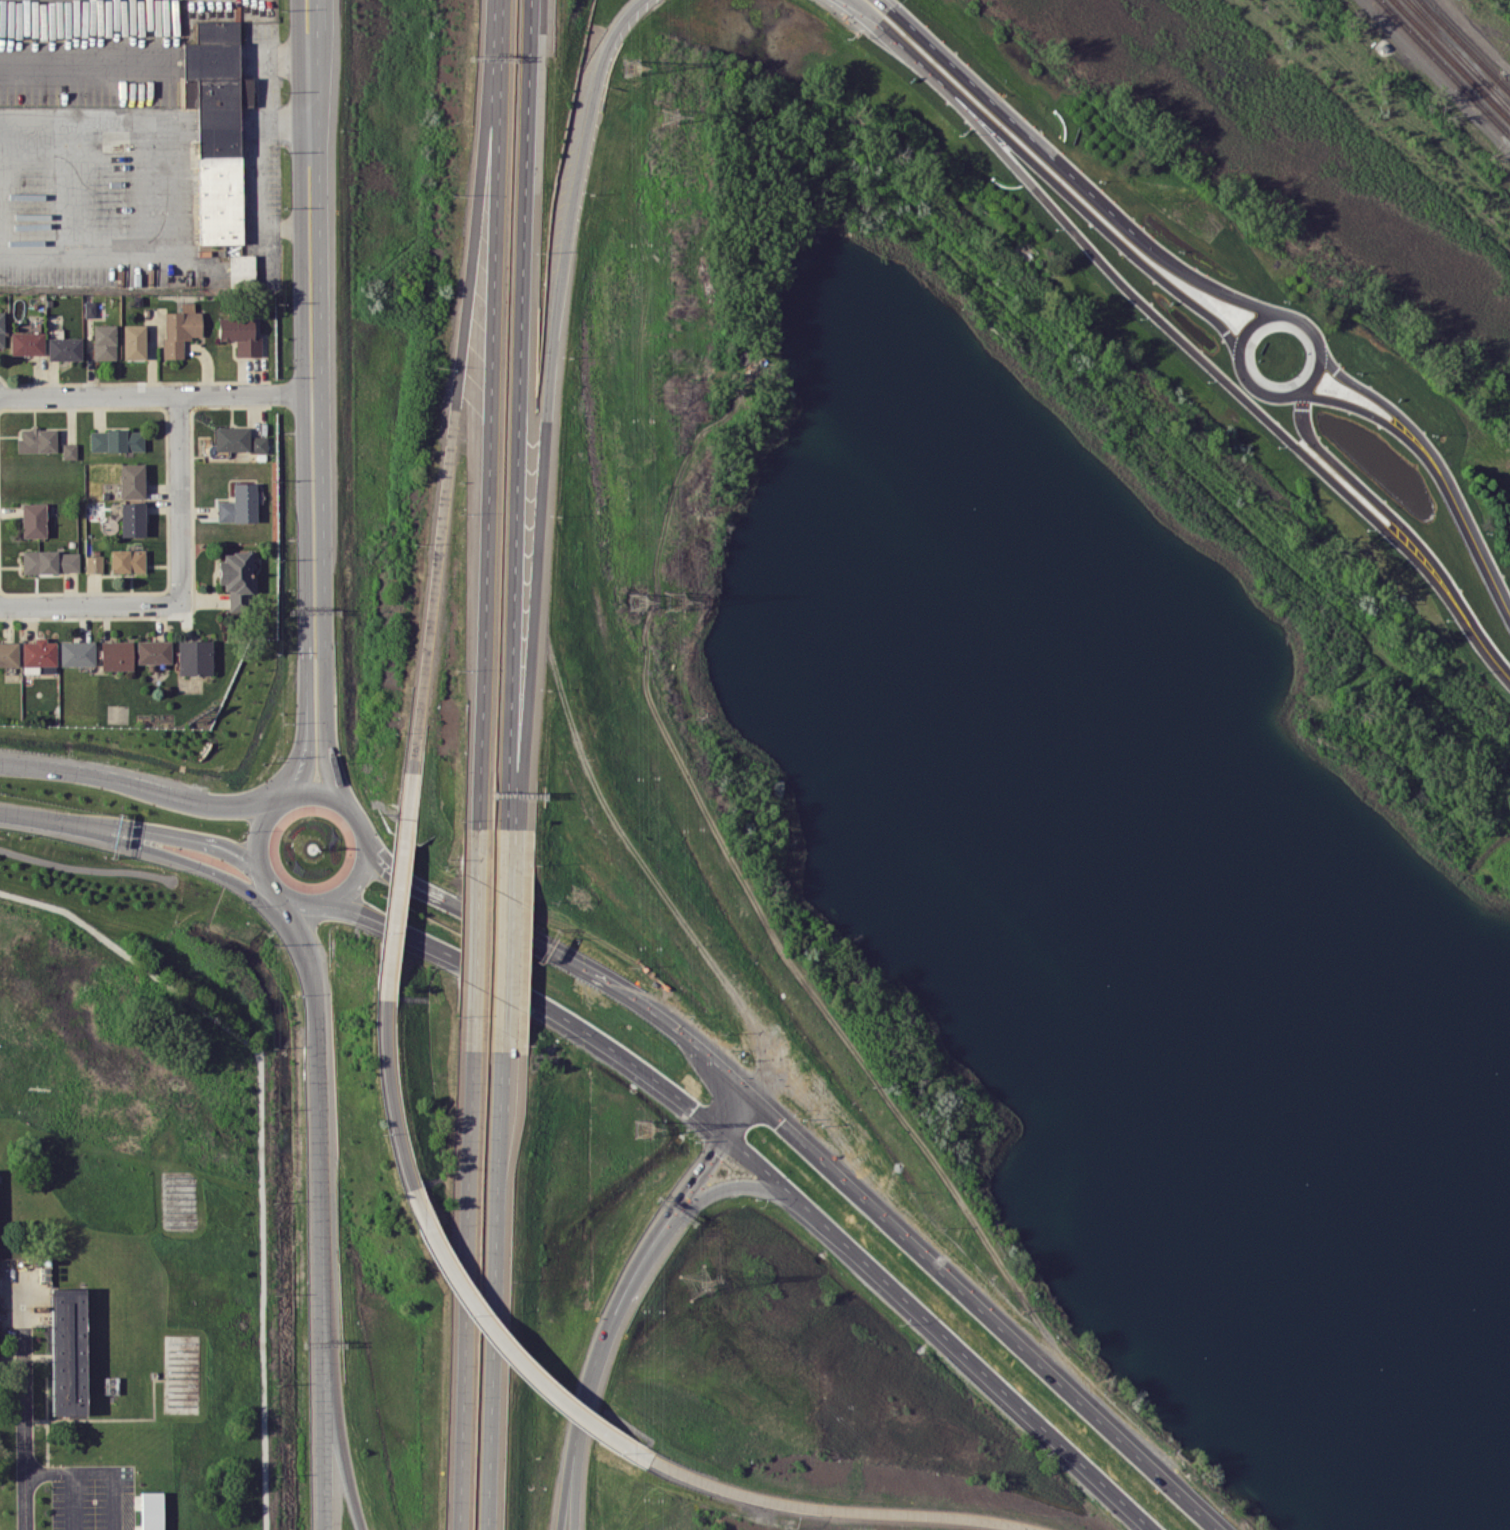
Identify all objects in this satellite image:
road: (497, 28)
railway: (1449, 44)
railway: (1452, 44)
railway: (1465, 46)
road: (210, 58)
road: (269, 58)
road: (90, 59)
railway: (1451, 59)
road: (309, 62)
railway: (1445, 67)
railway: (1501, 98)
building: (216, 128)
road: (1069, 173)
road: (260, 177)
road: (1048, 178)
building: (242, 270)
road: (301, 303)
building: (89, 309)
road: (1304, 322)
road: (1248, 328)
building: (181, 329)
building: (1, 330)
building: (241, 335)
road: (1180, 339)
building: (104, 342)
building: (134, 342)
building: (27, 343)
building: (64, 348)
road: (1317, 371)
road: (1260, 391)
road: (151, 395)
road: (1375, 397)
road: (321, 403)
road: (547, 407)
road: (1368, 413)
road: (517, 414)
road: (453, 432)
building: (37, 440)
building: (116, 440)
building: (238, 440)
road: (489, 443)
building: (69, 451)
building: (132, 480)
road: (1368, 495)
road: (181, 500)
building: (240, 504)
building: (132, 519)
building: (33, 520)
road: (1470, 534)
building: (127, 561)
building: (50, 562)
building: (94, 564)
building: (237, 579)
power tower: (637, 601)
power tower: (675, 601)
road: (91, 605)
road: (1477, 638)
building: (153, 652)
building: (39, 653)
building: (77, 653)
building: (8, 654)
road: (305, 654)
building: (116, 655)
building: (194, 657)
road: (311, 746)
road: (300, 750)
road: (137, 786)
road: (323, 792)
road: (286, 796)
road: (46, 818)
road: (361, 825)
road: (255, 834)
road: (179, 836)
road: (391, 859)
road: (191, 862)
road: (262, 876)
road: (393, 877)
road: (349, 887)
road: (397, 894)
road: (275, 898)
road: (288, 898)
road: (458, 906)
road: (506, 937)
road: (476, 938)
road: (616, 989)
road: (532, 997)
road: (390, 1086)
road: (734, 1106)
traffic signals: (694, 1108)
traffic signals: (779, 1123)
power tower: (643, 1129)
road: (319, 1142)
traffic signals: (715, 1153)
road: (826, 1166)
road: (700, 1173)
road: (734, 1184)
power tower: (697, 1282)
road: (496, 1287)
road: (464, 1288)
road: (610, 1324)
road: (940, 1332)
building: (68, 1351)
road: (513, 1355)
road: (1067, 1392)
road: (25, 1429)
road: (324, 1455)
road: (343, 1455)
road: (99, 1472)
road: (568, 1489)
road: (577, 1489)
parking lot: (93, 1497)
road: (72, 1501)
building: (152, 1510)
road: (842, 1510)

